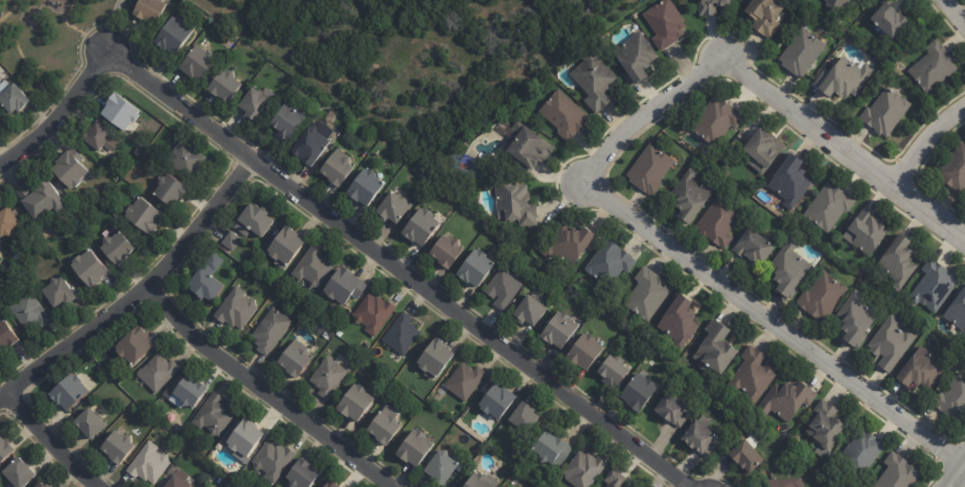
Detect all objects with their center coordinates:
building: (824, 0)
building: (840, 4)
building: (713, 6)
building: (150, 10)
building: (766, 15)
road: (951, 17)
building: (889, 20)
building: (664, 23)
building: (175, 34)
building: (801, 53)
building: (635, 57)
building: (199, 60)
building: (932, 67)
building: (843, 78)
building: (594, 79)
building: (226, 83)
building: (17, 98)
building: (257, 104)
building: (126, 109)
road: (644, 109)
road: (59, 111)
building: (886, 113)
building: (0, 114)
building: (562, 115)
building: (0, 120)
building: (716, 121)
building: (287, 122)
building: (103, 135)
road: (928, 138)
road: (845, 141)
building: (314, 143)
building: (527, 149)
building: (763, 150)
building: (140, 152)
building: (191, 157)
building: (74, 166)
building: (339, 166)
building: (649, 169)
building: (955, 169)
building: (789, 181)
building: (366, 186)
building: (175, 188)
building: (690, 197)
building: (44, 198)
building: (518, 205)
building: (393, 207)
building: (828, 207)
building: (147, 213)
building: (720, 219)
building: (255, 221)
building: (10, 222)
building: (421, 226)
building: (865, 232)
building: (231, 241)
building: (573, 245)
building: (287, 246)
building: (121, 247)
building: (617, 247)
building: (754, 247)
building: (447, 251)
building: (898, 260)
building: (214, 261)
building: (608, 264)
building: (311, 265)
building: (94, 266)
building: (476, 267)
road: (399, 269)
building: (788, 270)
building: (206, 286)
building: (343, 286)
building: (933, 287)
building: (501, 288)
road: (137, 290)
building: (62, 291)
building: (646, 294)
building: (822, 297)
building: (236, 308)
building: (30, 311)
building: (957, 311)
building: (529, 312)
building: (374, 313)
road: (773, 320)
building: (857, 320)
building: (679, 321)
building: (271, 330)
building: (560, 330)
building: (400, 332)
building: (339, 333)
building: (326, 335)
building: (7, 336)
building: (890, 343)
building: (133, 346)
building: (715, 349)
building: (584, 351)
building: (293, 357)
building: (435, 359)
building: (921, 370)
building: (613, 371)
building: (159, 372)
building: (327, 375)
building: (751, 375)
building: (466, 381)
road: (264, 390)
building: (191, 391)
building: (69, 392)
building: (638, 392)
building: (952, 400)
building: (497, 401)
building: (785, 401)
building: (356, 402)
building: (670, 410)
building: (524, 415)
building: (214, 416)
building: (90, 423)
building: (385, 425)
building: (825, 425)
building: (698, 437)
road: (50, 440)
building: (245, 440)
building: (117, 447)
building: (415, 447)
building: (6, 449)
building: (553, 450)
building: (861, 452)
building: (746, 456)
building: (272, 459)
building: (148, 464)
building: (440, 468)
building: (585, 470)
building: (23, 473)
building: (897, 473)
building: (302, 475)
road: (958, 478)
building: (617, 480)
building: (483, 481)
building: (176, 483)
building: (782, 483)
building: (46, 484)
building: (331, 485)
building: (211, 486)

